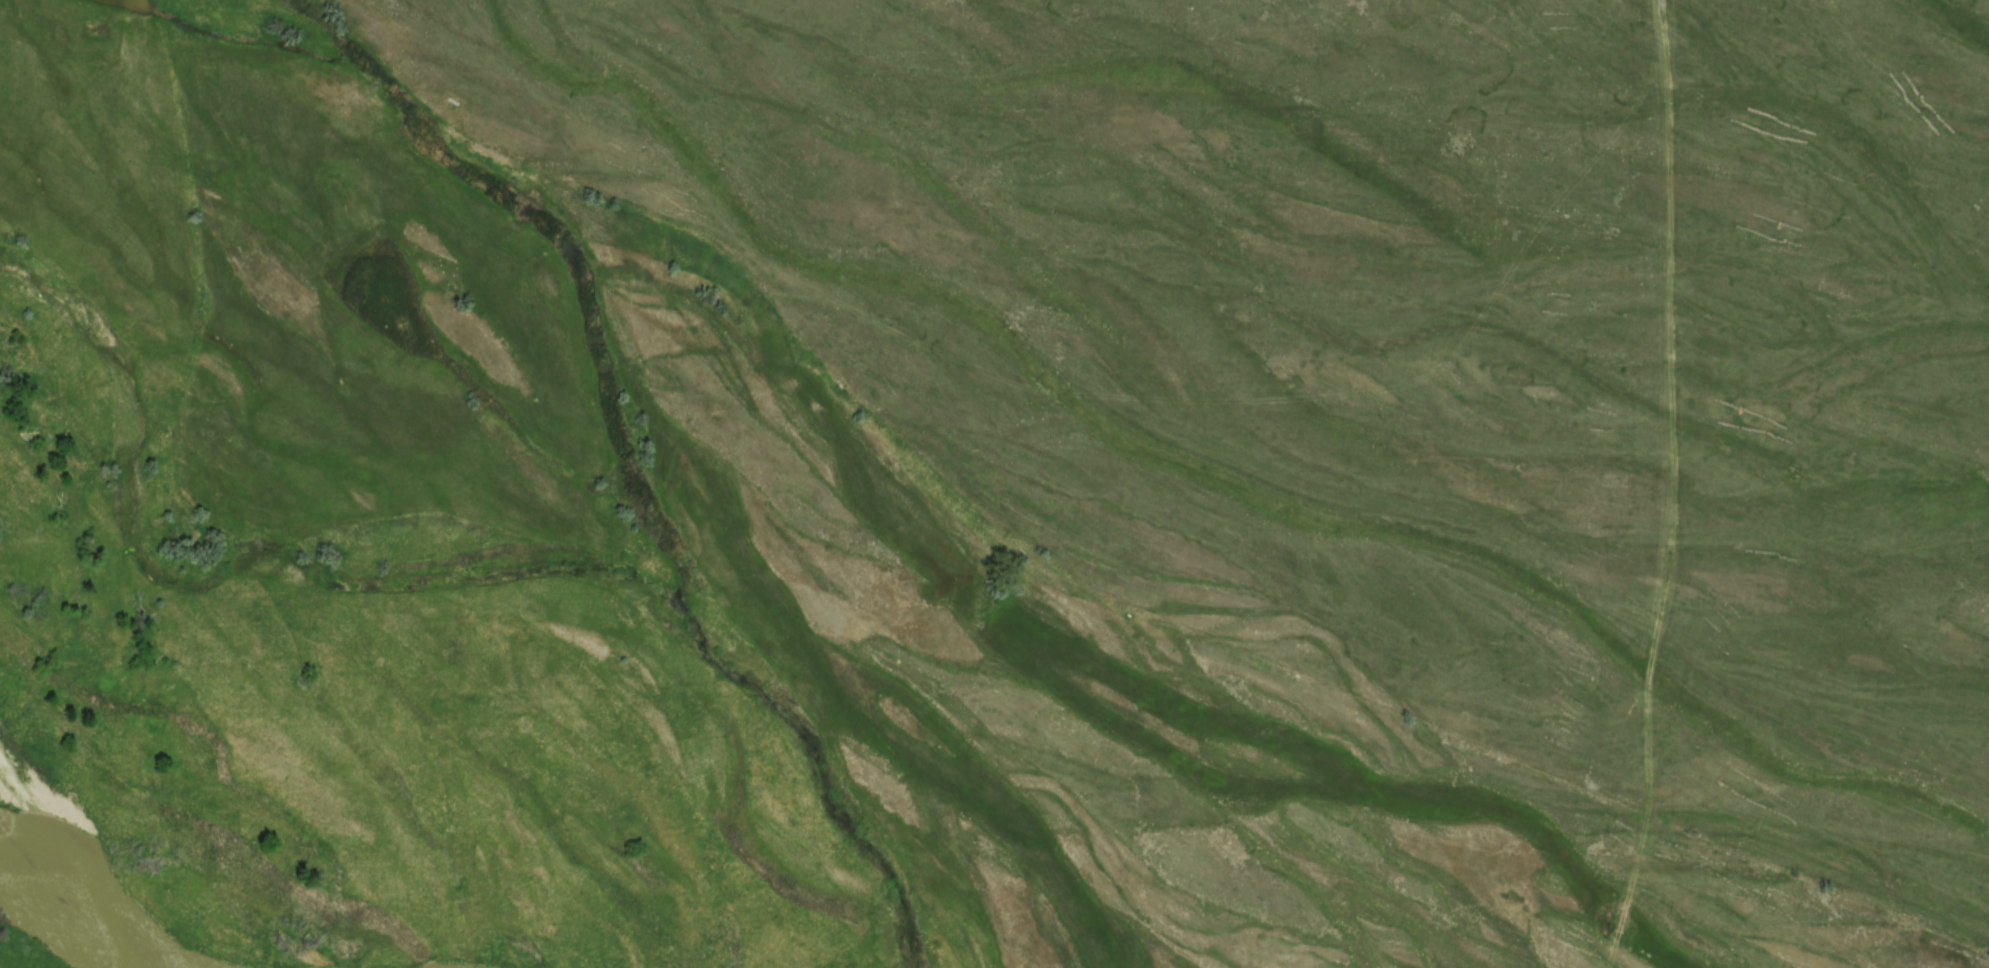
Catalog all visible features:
river: (63, 926)

